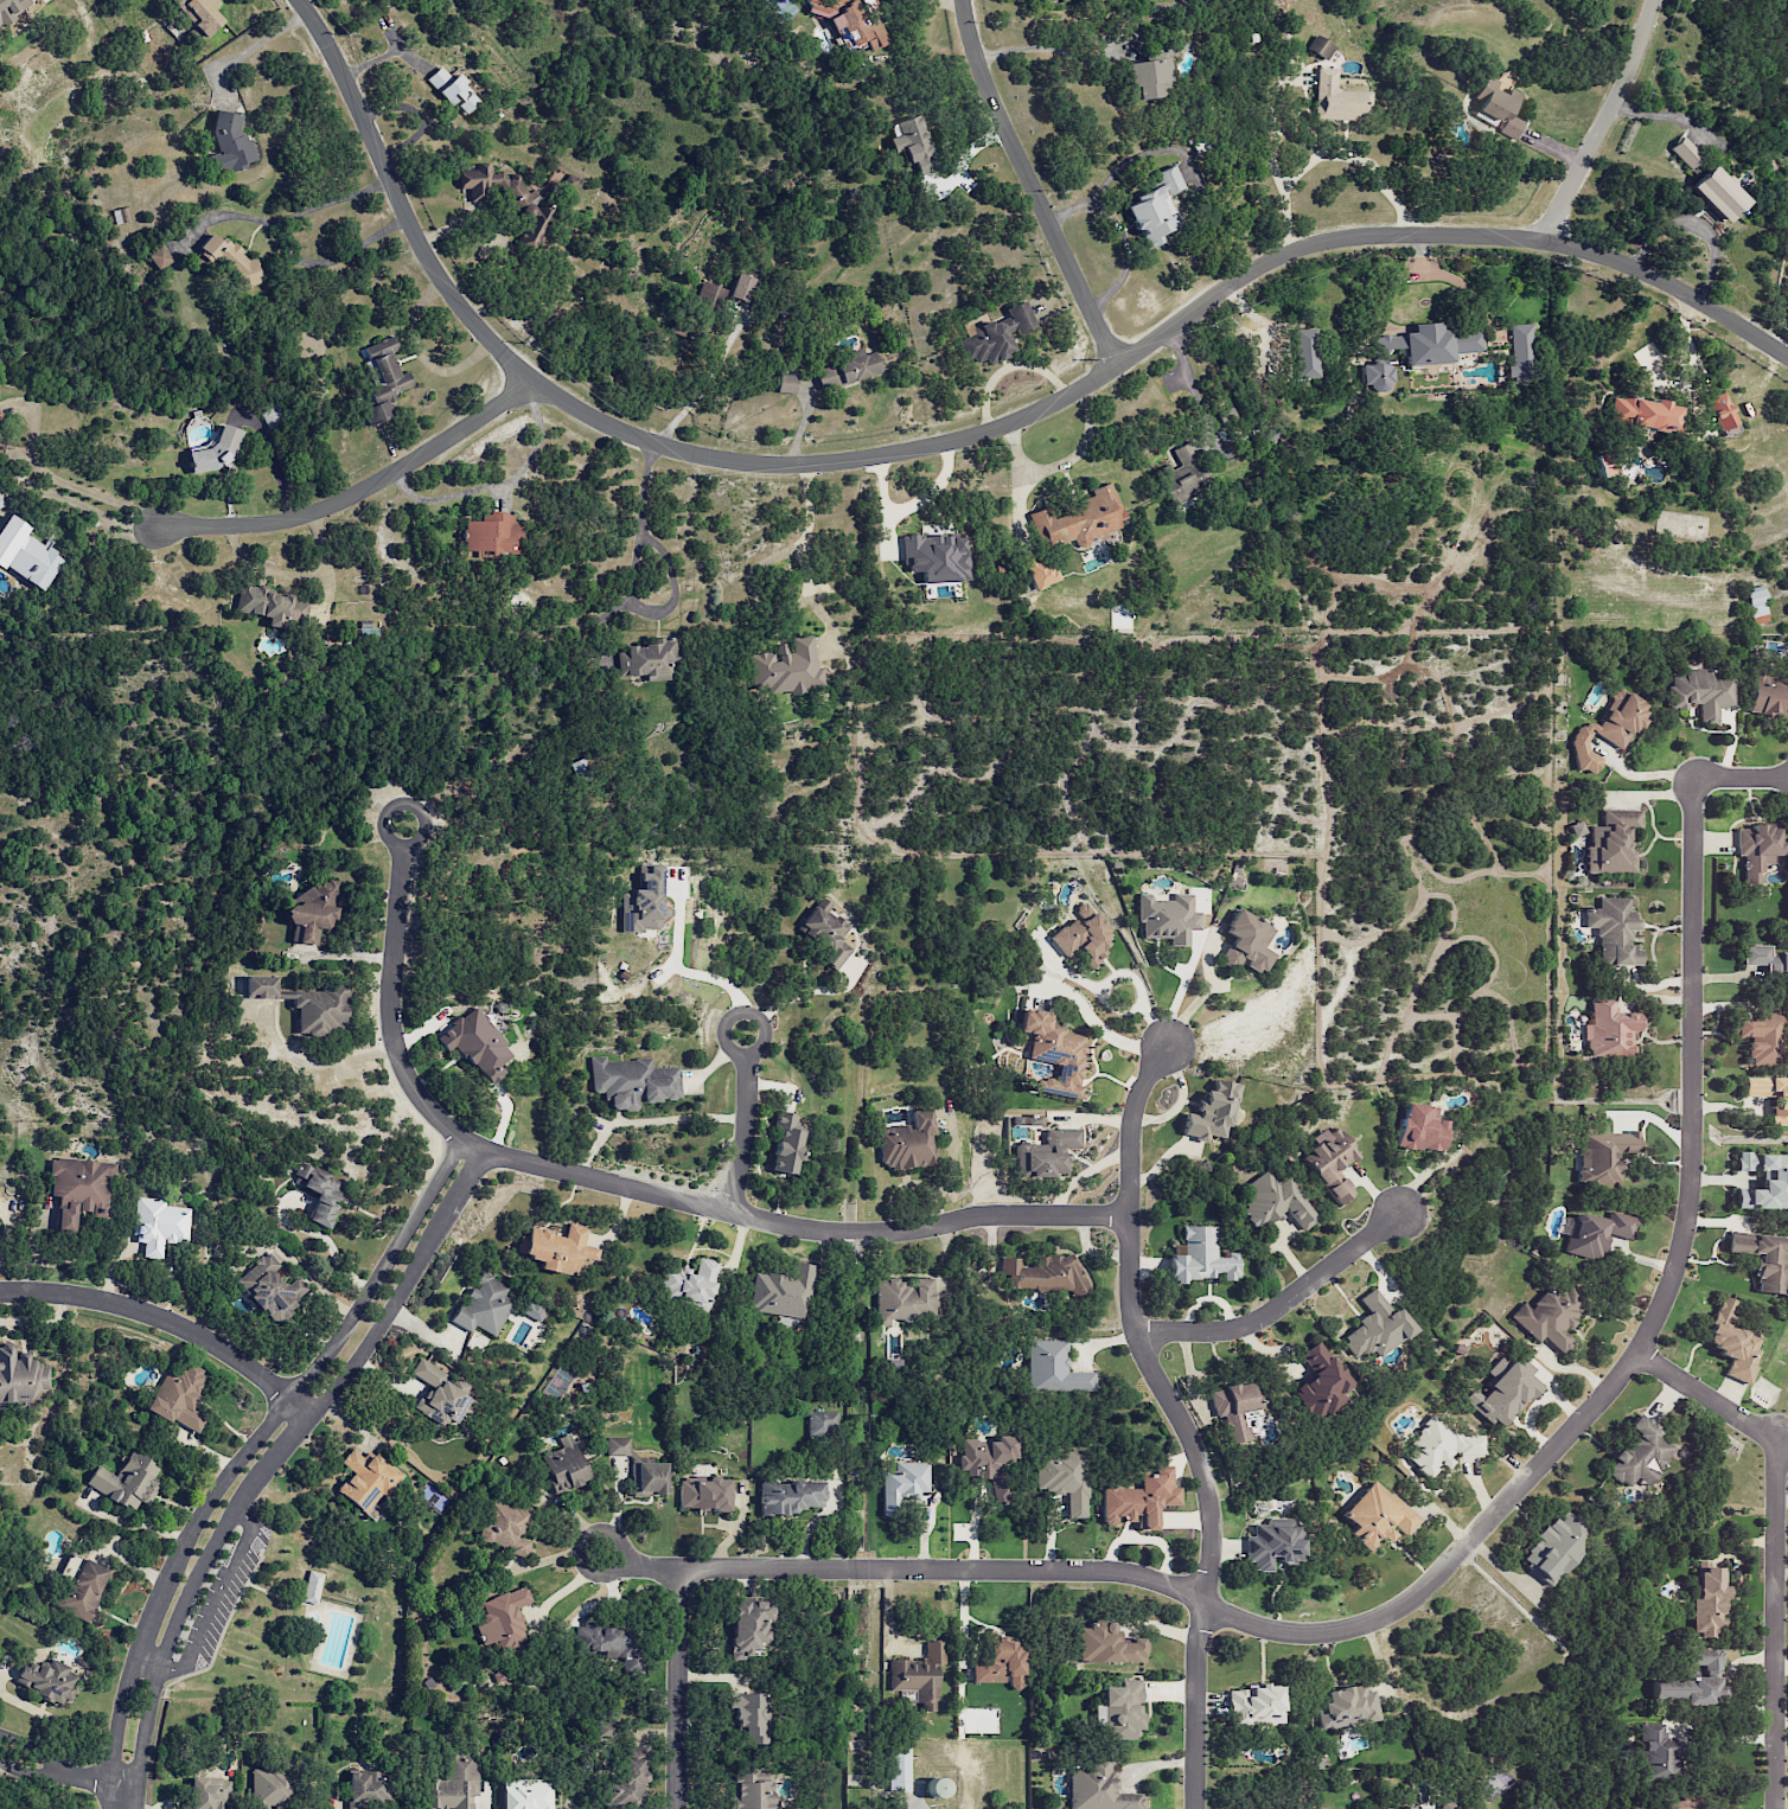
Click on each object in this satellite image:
building: (12, 8)
building: (200, 14)
building: (849, 24)
building: (1318, 46)
road: (243, 47)
road: (1058, 49)
building: (1149, 78)
building: (452, 90)
building: (1337, 98)
building: (1498, 107)
road: (1603, 121)
building: (913, 141)
building: (230, 143)
building: (1685, 152)
road: (1361, 160)
road: (1272, 165)
building: (560, 184)
road: (1032, 184)
building: (1718, 193)
building: (506, 199)
building: (1156, 207)
building: (158, 256)
building: (230, 261)
building: (740, 287)
building: (711, 293)
building: (995, 335)
building: (1417, 350)
building: (1304, 352)
building: (1520, 352)
building: (845, 369)
building: (382, 378)
road: (1187, 378)
building: (786, 383)
building: (1720, 410)
building: (1642, 413)
building: (1226, 415)
road: (965, 439)
building: (216, 452)
road: (1077, 452)
building: (1183, 474)
road: (65, 481)
road: (1015, 482)
road: (358, 491)
building: (1079, 519)
road: (810, 525)
building: (492, 533)
building: (26, 554)
building: (935, 556)
building: (1037, 571)
road: (628, 584)
building: (1755, 606)
building: (273, 607)
building: (647, 659)
building: (783, 666)
building: (1701, 691)
building: (1768, 695)
building: (1607, 728)
building: (1576, 829)
building: (1611, 842)
road: (394, 843)
building: (1757, 849)
building: (643, 902)
building: (309, 909)
building: (1167, 918)
building: (1613, 931)
building: (825, 932)
building: (1081, 935)
building: (1246, 942)
building: (1765, 959)
road: (687, 972)
building: (304, 1004)
building: (1610, 1029)
building: (1761, 1036)
building: (475, 1043)
road: (732, 1049)
building: (1053, 1053)
road: (313, 1062)
building: (632, 1081)
building: (1769, 1095)
building: (1212, 1112)
building: (1026, 1119)
road: (647, 1121)
building: (1418, 1129)
road: (743, 1132)
building: (907, 1142)
building: (787, 1143)
building: (1046, 1153)
building: (1603, 1155)
building: (1330, 1163)
building: (1762, 1181)
building: (81, 1189)
road: (634, 1189)
building: (320, 1193)
building: (1275, 1201)
building: (159, 1225)
building: (1596, 1232)
building: (558, 1248)
building: (1201, 1257)
building: (1762, 1258)
building: (1047, 1276)
building: (689, 1284)
building: (272, 1289)
building: (780, 1291)
building: (903, 1299)
road: (1665, 1299)
building: (483, 1305)
road: (1277, 1305)
building: (532, 1311)
building: (1548, 1315)
road: (167, 1323)
building: (1375, 1327)
building: (1731, 1341)
building: (1052, 1368)
building: (20, 1375)
building: (1321, 1382)
building: (1500, 1392)
building: (179, 1394)
building: (440, 1394)
building: (1233, 1408)
road: (1179, 1420)
building: (822, 1423)
building: (1439, 1445)
building: (618, 1446)
building: (1640, 1455)
road: (242, 1456)
building: (988, 1463)
road: (270, 1464)
building: (564, 1464)
building: (1061, 1477)
building: (647, 1478)
building: (368, 1479)
building: (127, 1481)
building: (902, 1484)
building: (703, 1492)
building: (791, 1495)
building: (1139, 1498)
building: (1377, 1514)
road: (129, 1524)
building: (505, 1528)
building: (1275, 1543)
road: (1775, 1543)
building: (1552, 1548)
road: (915, 1570)
road: (618, 1572)
building: (312, 1586)
building: (83, 1590)
parking lot: (223, 1598)
building: (1707, 1599)
road: (209, 1607)
building: (503, 1617)
building: (749, 1628)
building: (1105, 1644)
building: (608, 1645)
building: (998, 1663)
building: (917, 1677)
building: (46, 1680)
building: (1693, 1681)
road: (678, 1688)
building: (1257, 1705)
building: (1347, 1706)
building: (1122, 1711)
building: (751, 1718)
road: (1668, 1720)
building: (609, 1730)
road: (34, 1750)
building: (1656, 1751)
building: (898, 1769)
road: (30, 1775)
road: (101, 1778)
building: (630, 1779)
building: (452, 1783)
building: (269, 1786)
building: (752, 1788)
building: (1097, 1788)
building: (366, 1790)
building: (207, 1794)
building: (526, 1795)
building: (1677, 1804)
building: (1438, 1805)

